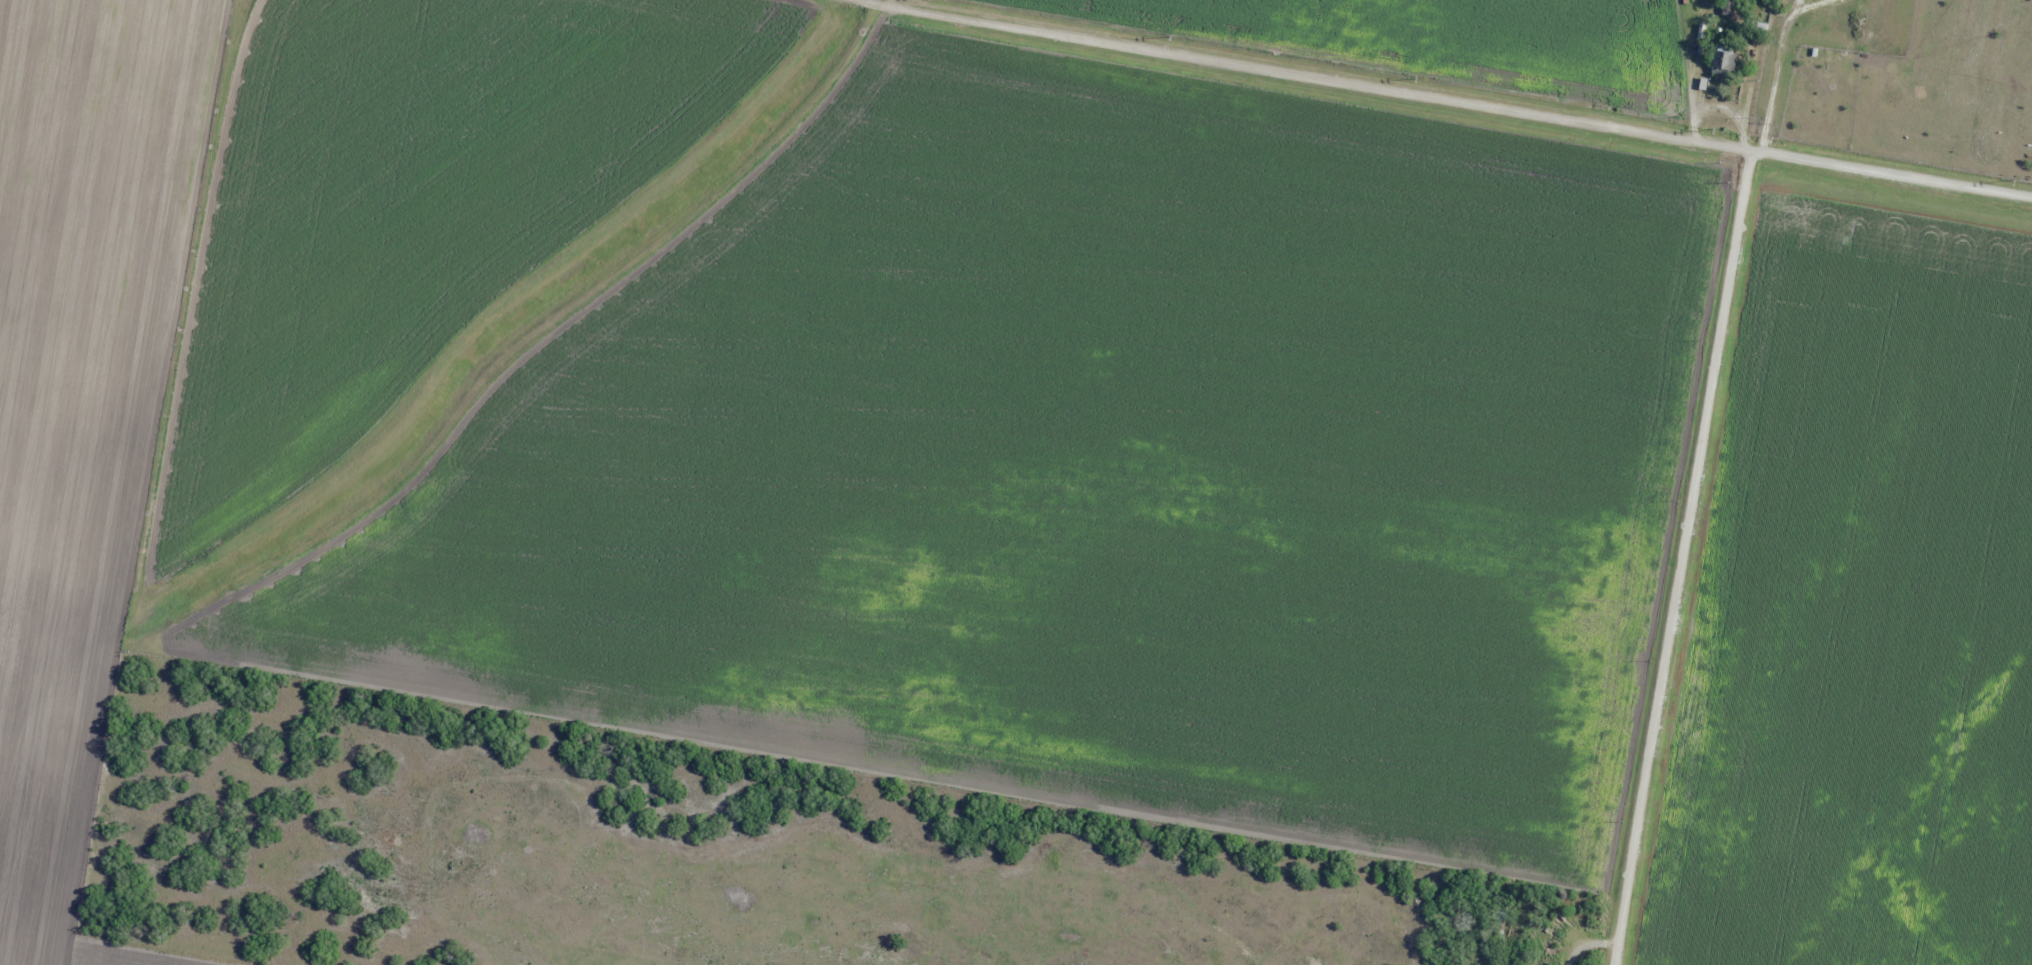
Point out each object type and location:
building: (1723, 58)
road: (1453, 104)
road: (1684, 561)

